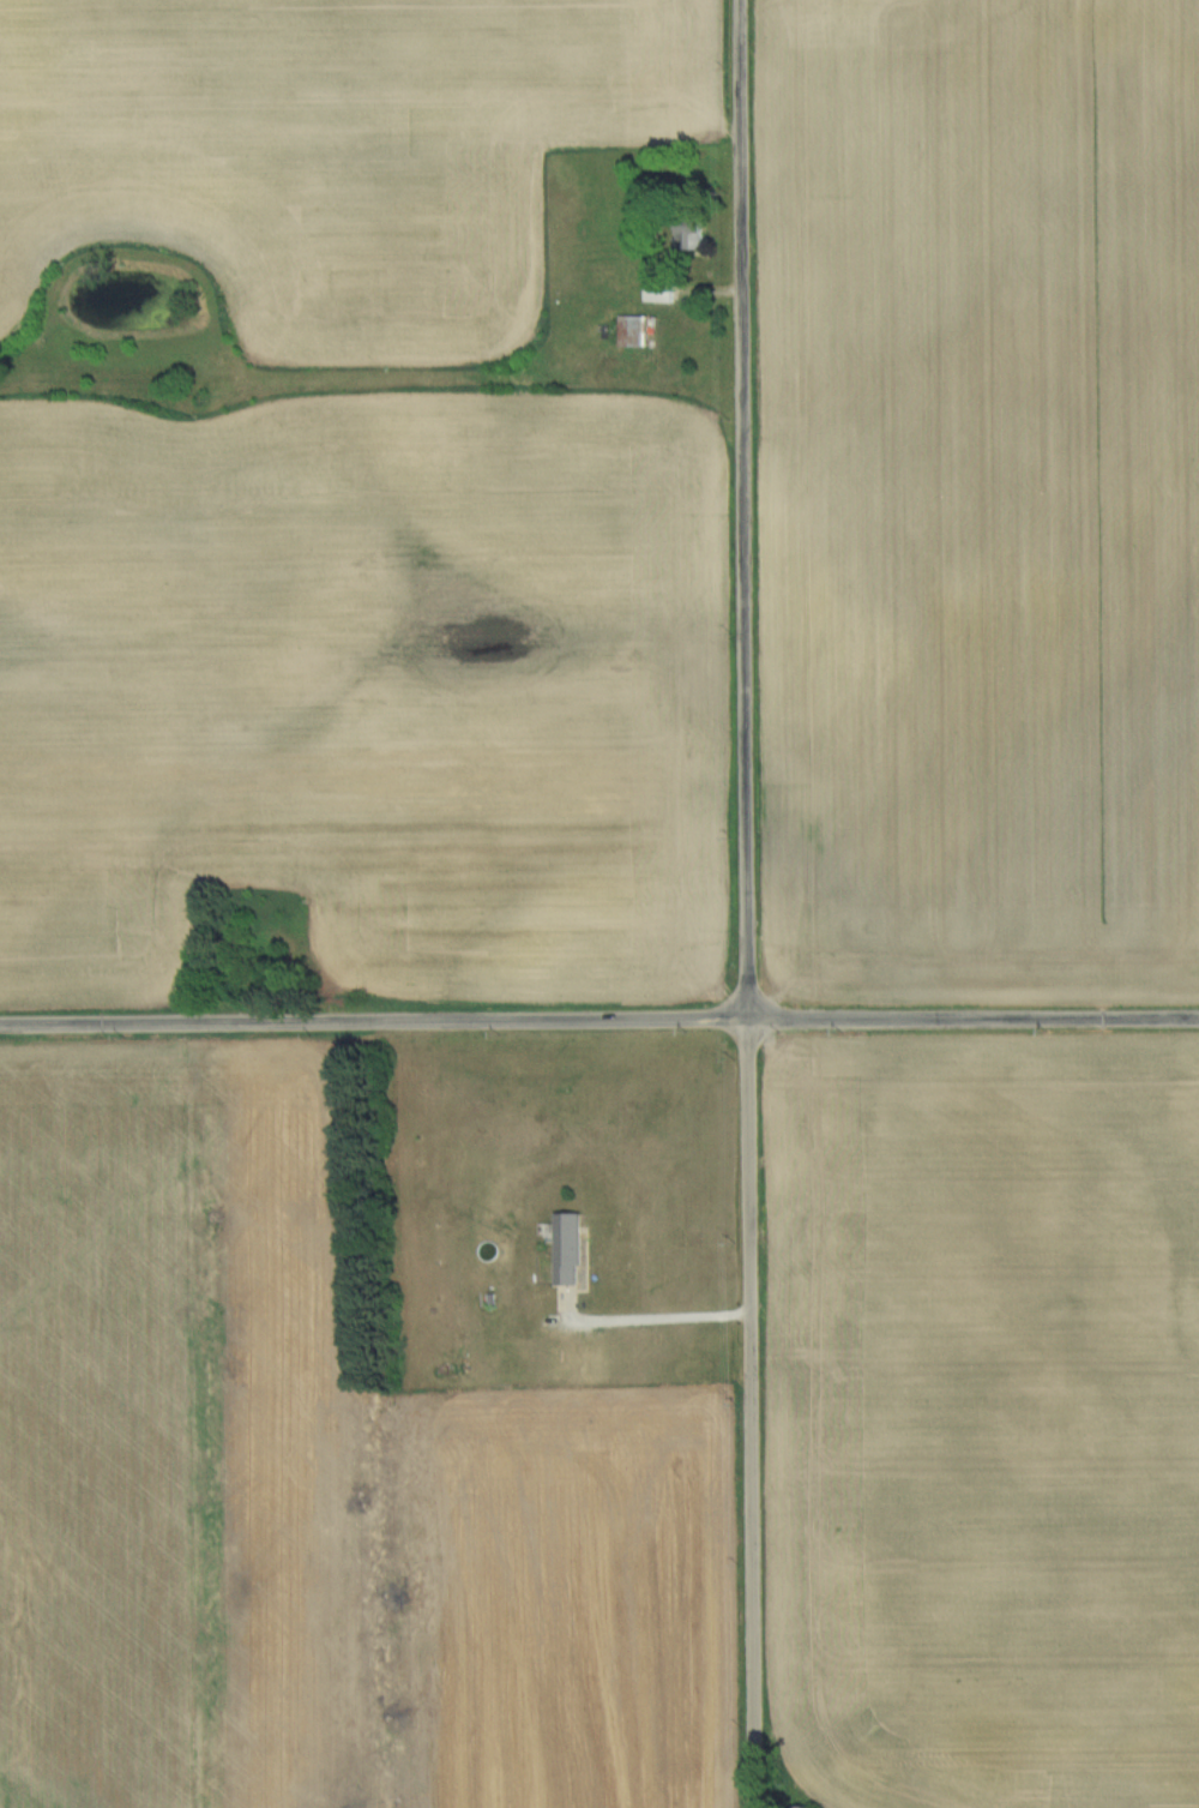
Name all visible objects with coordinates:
building: (688, 235)
building: (661, 292)
building: (633, 331)
road: (747, 903)
road: (598, 1022)
building: (568, 1249)
road: (657, 1323)

